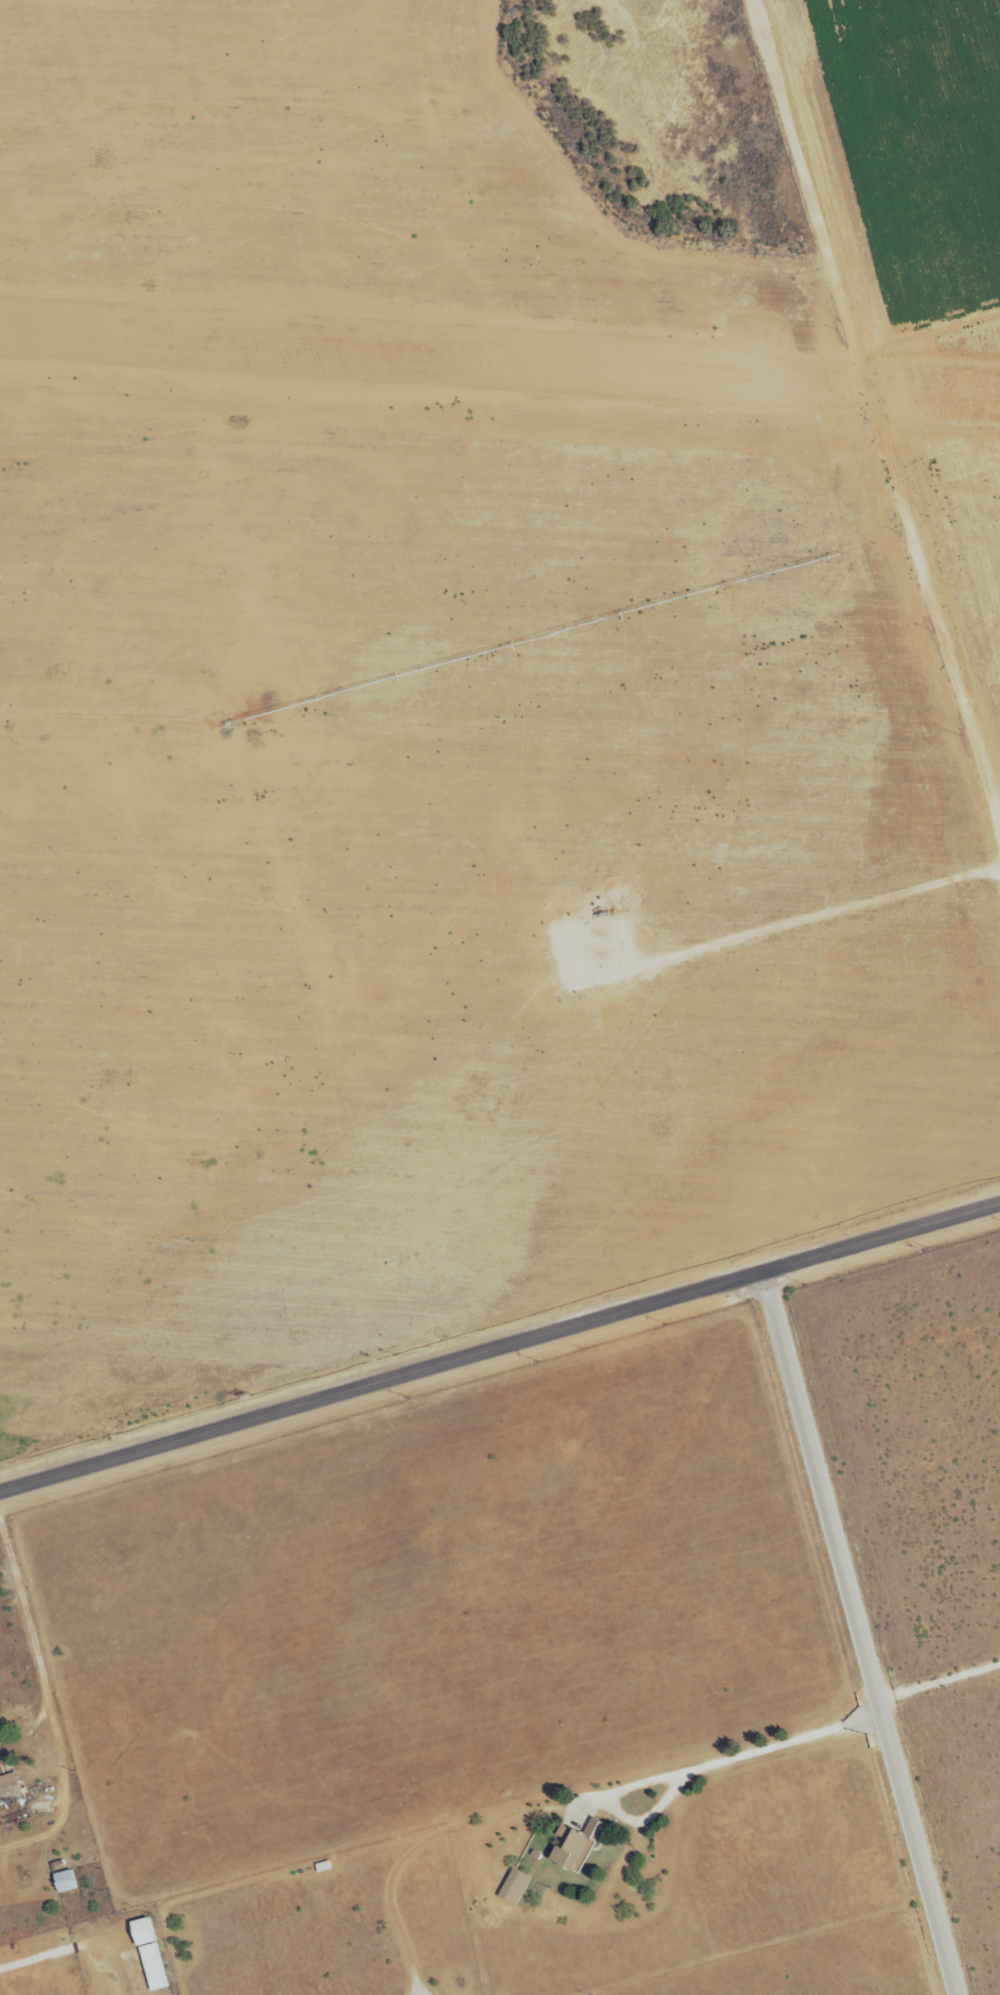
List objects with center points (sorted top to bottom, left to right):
road: (875, 427)
crop: (482, 692)
road: (973, 705)
road: (500, 1352)
road: (864, 1653)
road: (695, 1762)
building: (10, 1789)
building: (578, 1848)
building: (66, 1882)
building: (515, 1888)
building: (151, 1955)

